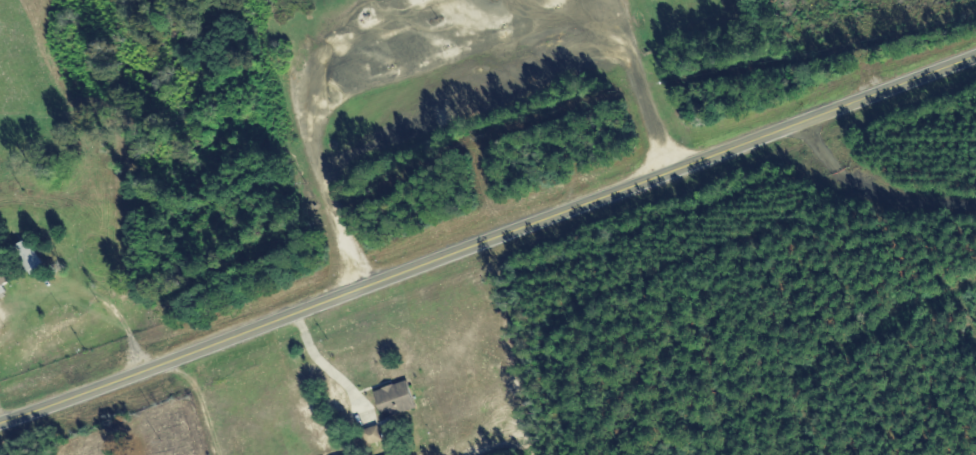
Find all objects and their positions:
road: (871, 194)
road: (488, 237)
building: (26, 256)
building: (2, 278)
building: (392, 399)
road: (971, 447)
building: (351, 454)

